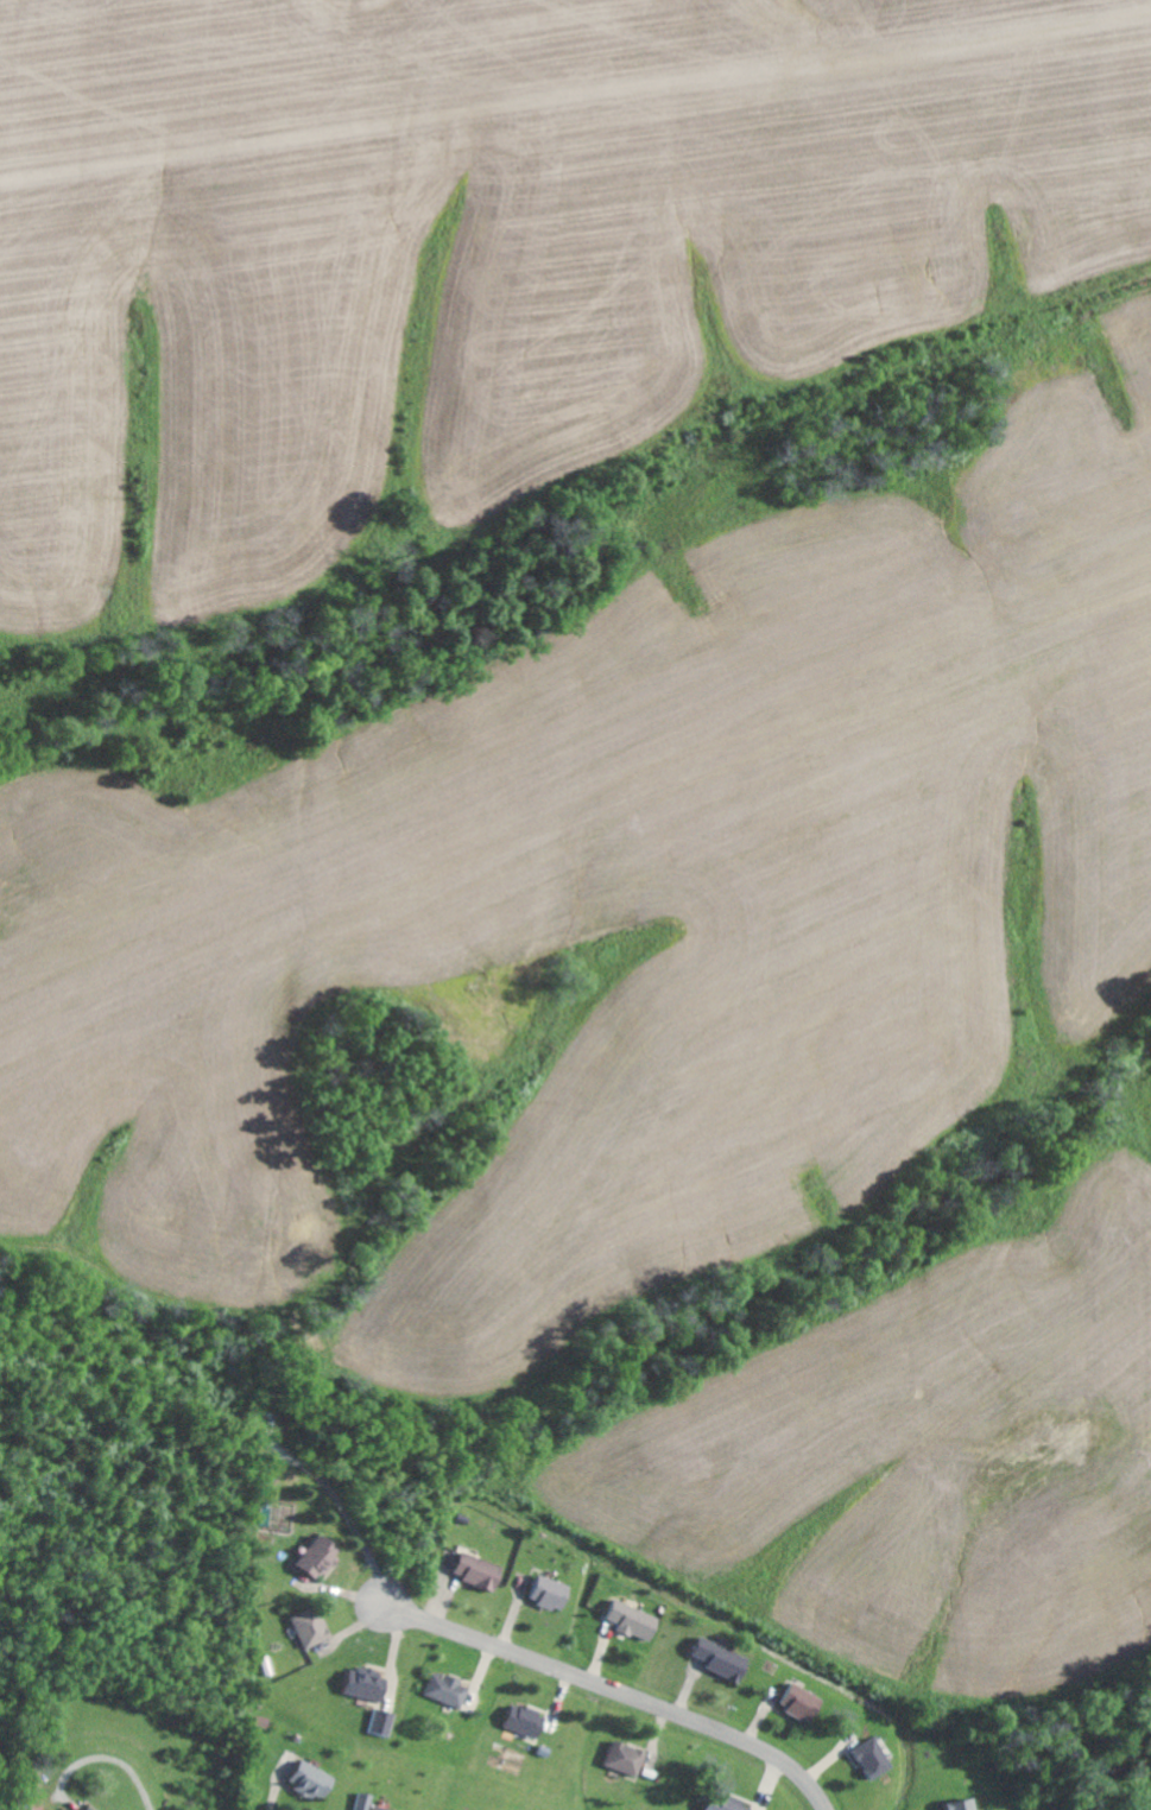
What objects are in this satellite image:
building: (309, 1557)
building: (472, 1571)
building: (544, 1593)
building: (628, 1620)
building: (303, 1627)
building: (715, 1658)
building: (359, 1684)
road: (600, 1686)
building: (441, 1690)
building: (793, 1701)
building: (519, 1720)
building: (377, 1723)
building: (619, 1758)
building: (866, 1758)
road: (109, 1760)
building: (303, 1779)
building: (361, 1803)
building: (719, 1803)
building: (956, 1804)
building: (82, 1808)

